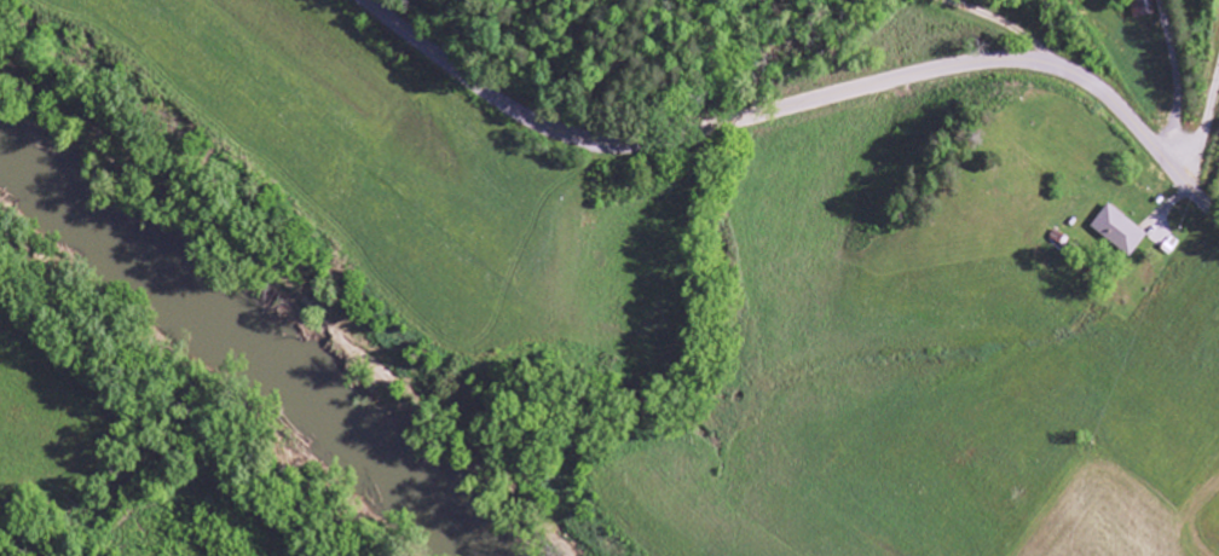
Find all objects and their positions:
road: (799, 102)
building: (1117, 231)
river: (235, 346)

